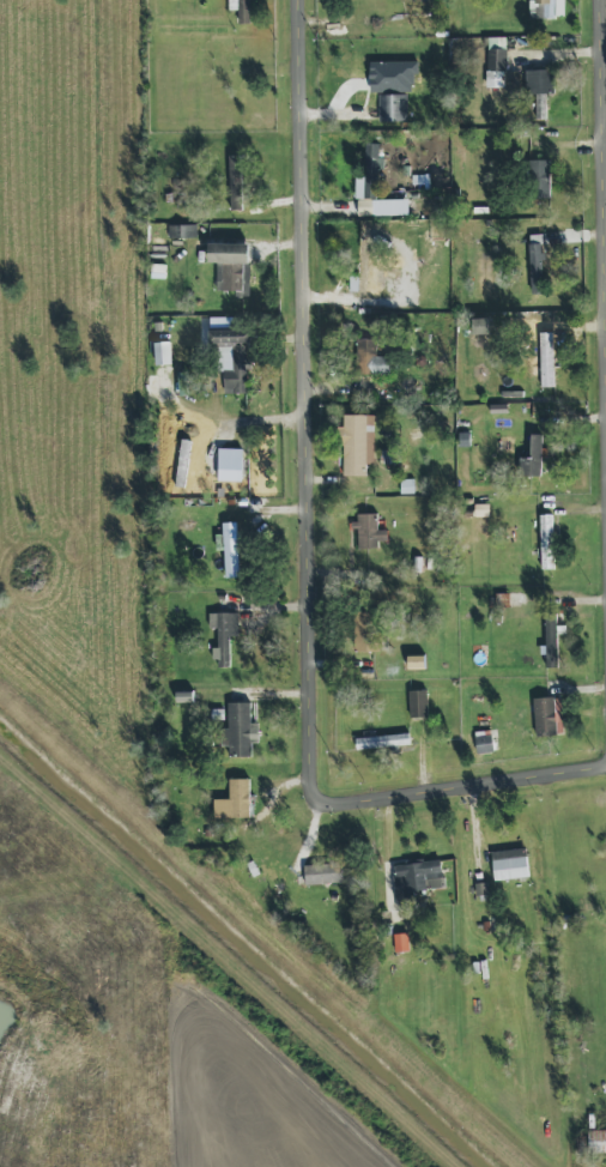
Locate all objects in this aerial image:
building: (546, 8)
building: (241, 10)
building: (496, 61)
building: (539, 81)
building: (393, 87)
building: (369, 173)
building: (235, 182)
building: (390, 207)
building: (181, 231)
building: (535, 264)
building: (231, 266)
building: (360, 273)
building: (481, 326)
building: (163, 352)
building: (232, 357)
building: (370, 359)
building: (545, 359)
building: (186, 382)
building: (357, 445)
building: (533, 456)
building: (230, 465)
building: (368, 532)
building: (546, 542)
building: (230, 550)
road: (314, 551)
building: (366, 631)
building: (223, 635)
building: (418, 703)
building: (547, 716)
building: (241, 730)
building: (382, 742)
building: (484, 742)
building: (238, 798)
building: (509, 864)
building: (323, 875)
building: (416, 879)
road: (261, 927)
building: (400, 943)
road: (230, 960)
building: (592, 1143)

